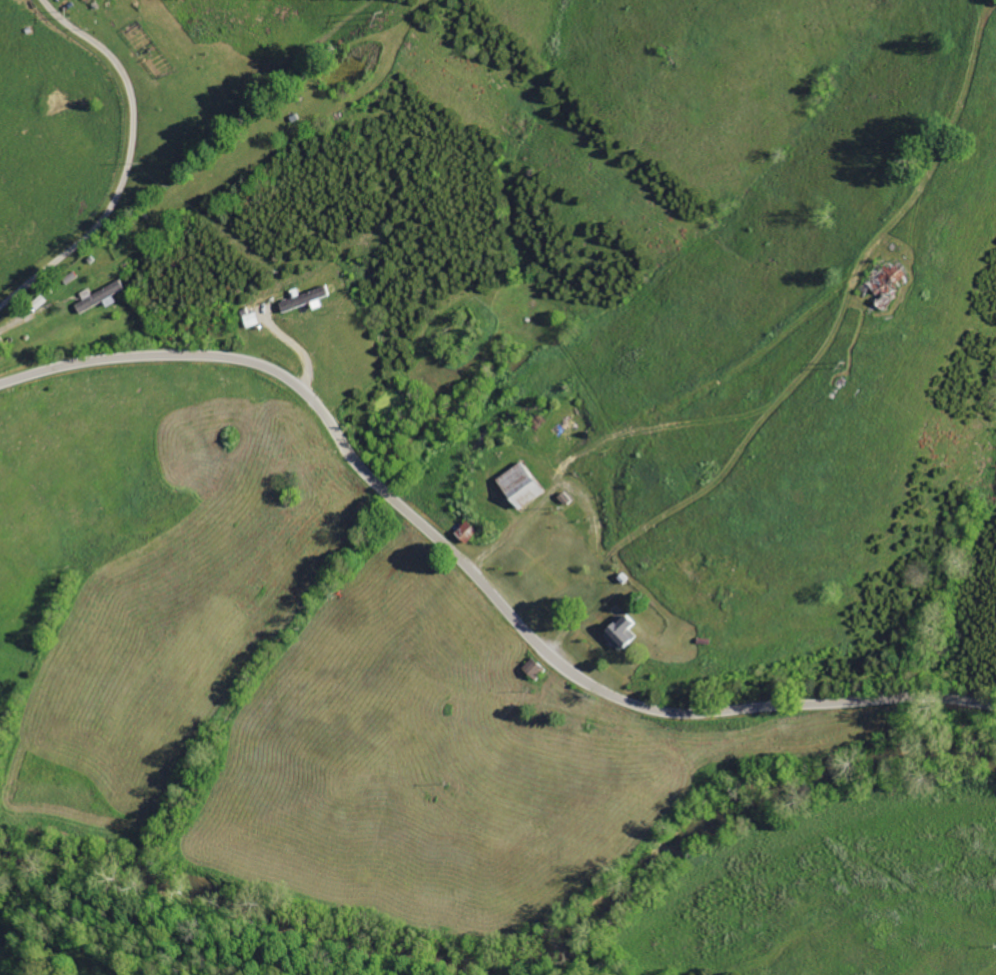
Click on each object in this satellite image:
road: (128, 162)
building: (100, 297)
building: (251, 320)
road: (652, 422)
building: (519, 486)
road: (476, 577)
building: (620, 632)

